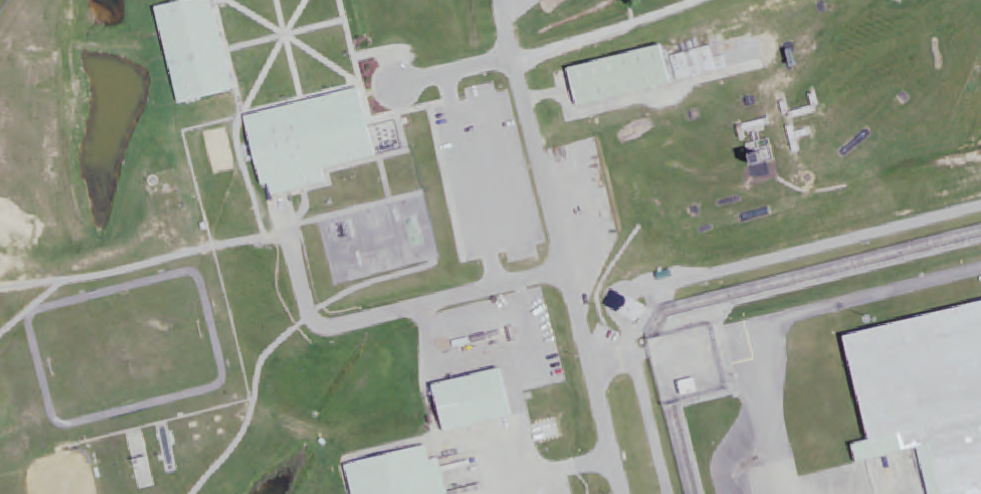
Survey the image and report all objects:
airport: (5, 7)
road: (610, 33)
building: (202, 51)
building: (663, 71)
building: (317, 142)
road: (563, 247)
road: (706, 276)
building: (638, 311)
building: (697, 389)
building: (923, 395)
building: (482, 402)
building: (408, 475)

